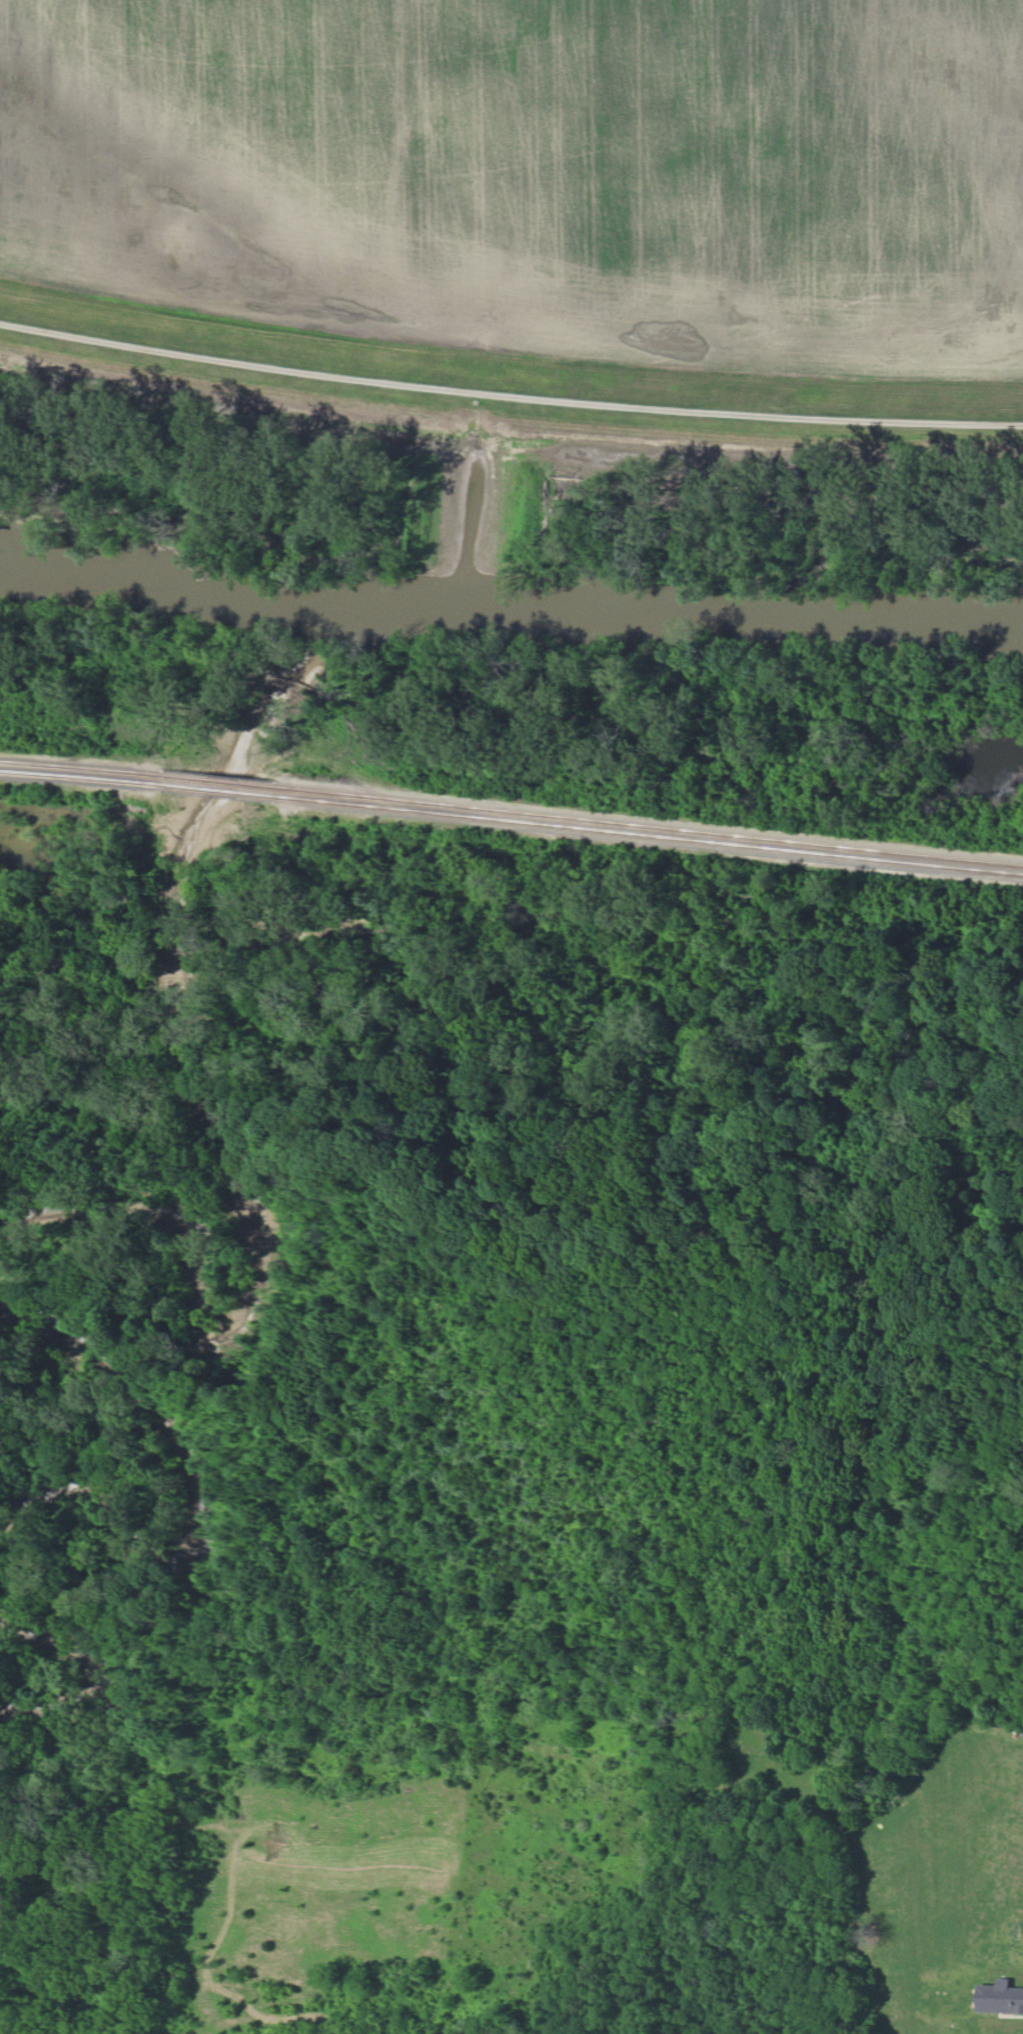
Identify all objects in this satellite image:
crop: (539, 171)
road: (509, 391)
river: (510, 608)
railway: (511, 808)
railway: (511, 817)
crop: (934, 1870)
building: (1000, 1997)

